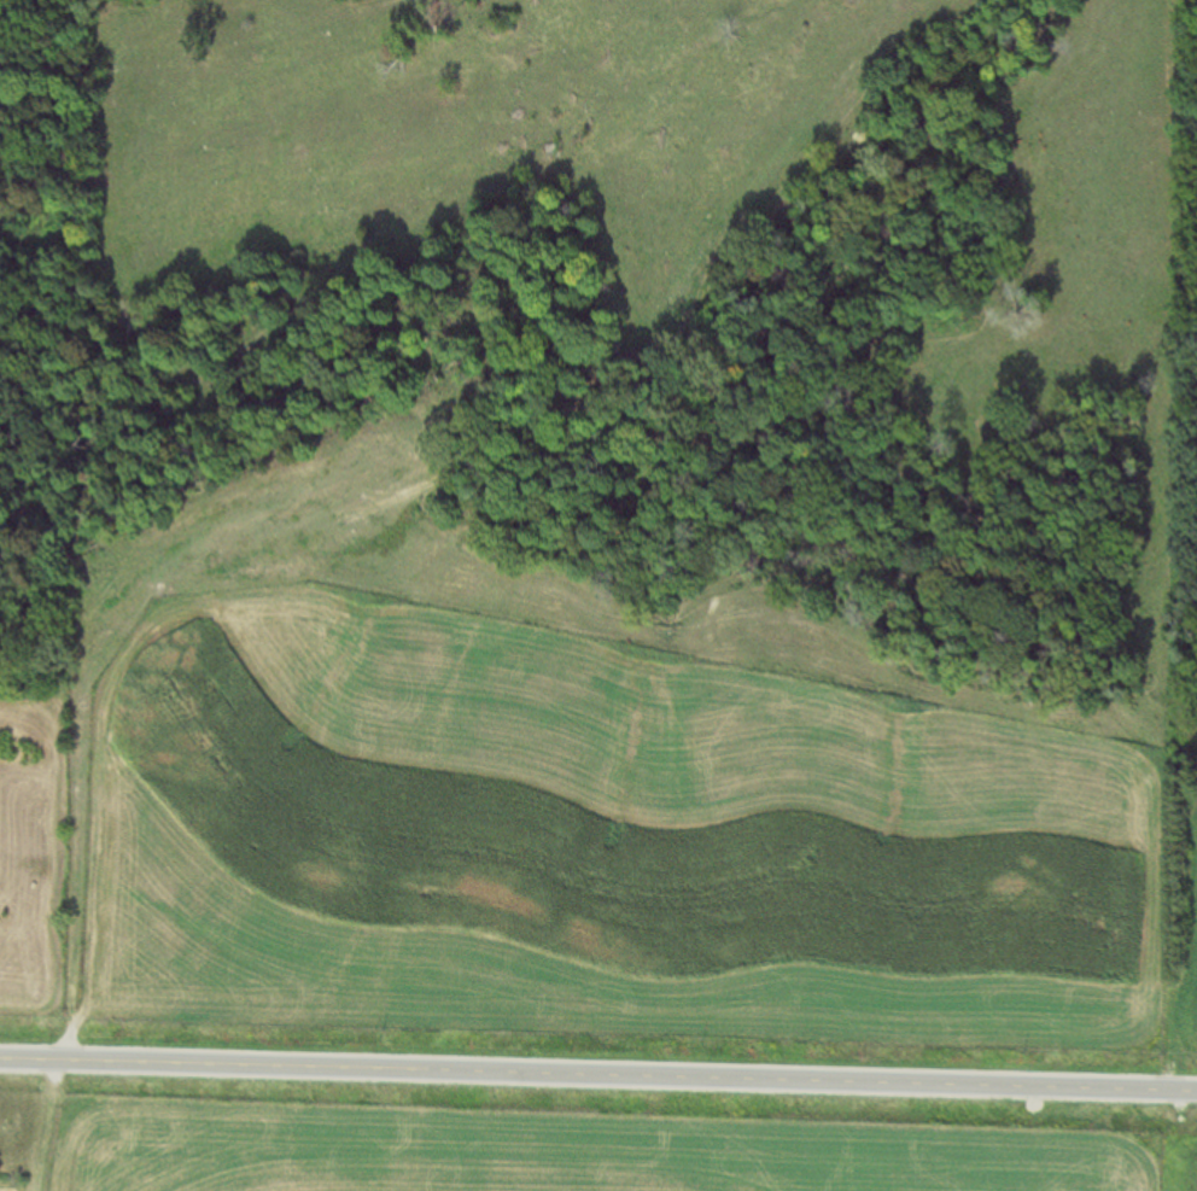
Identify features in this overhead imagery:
road: (598, 1087)

